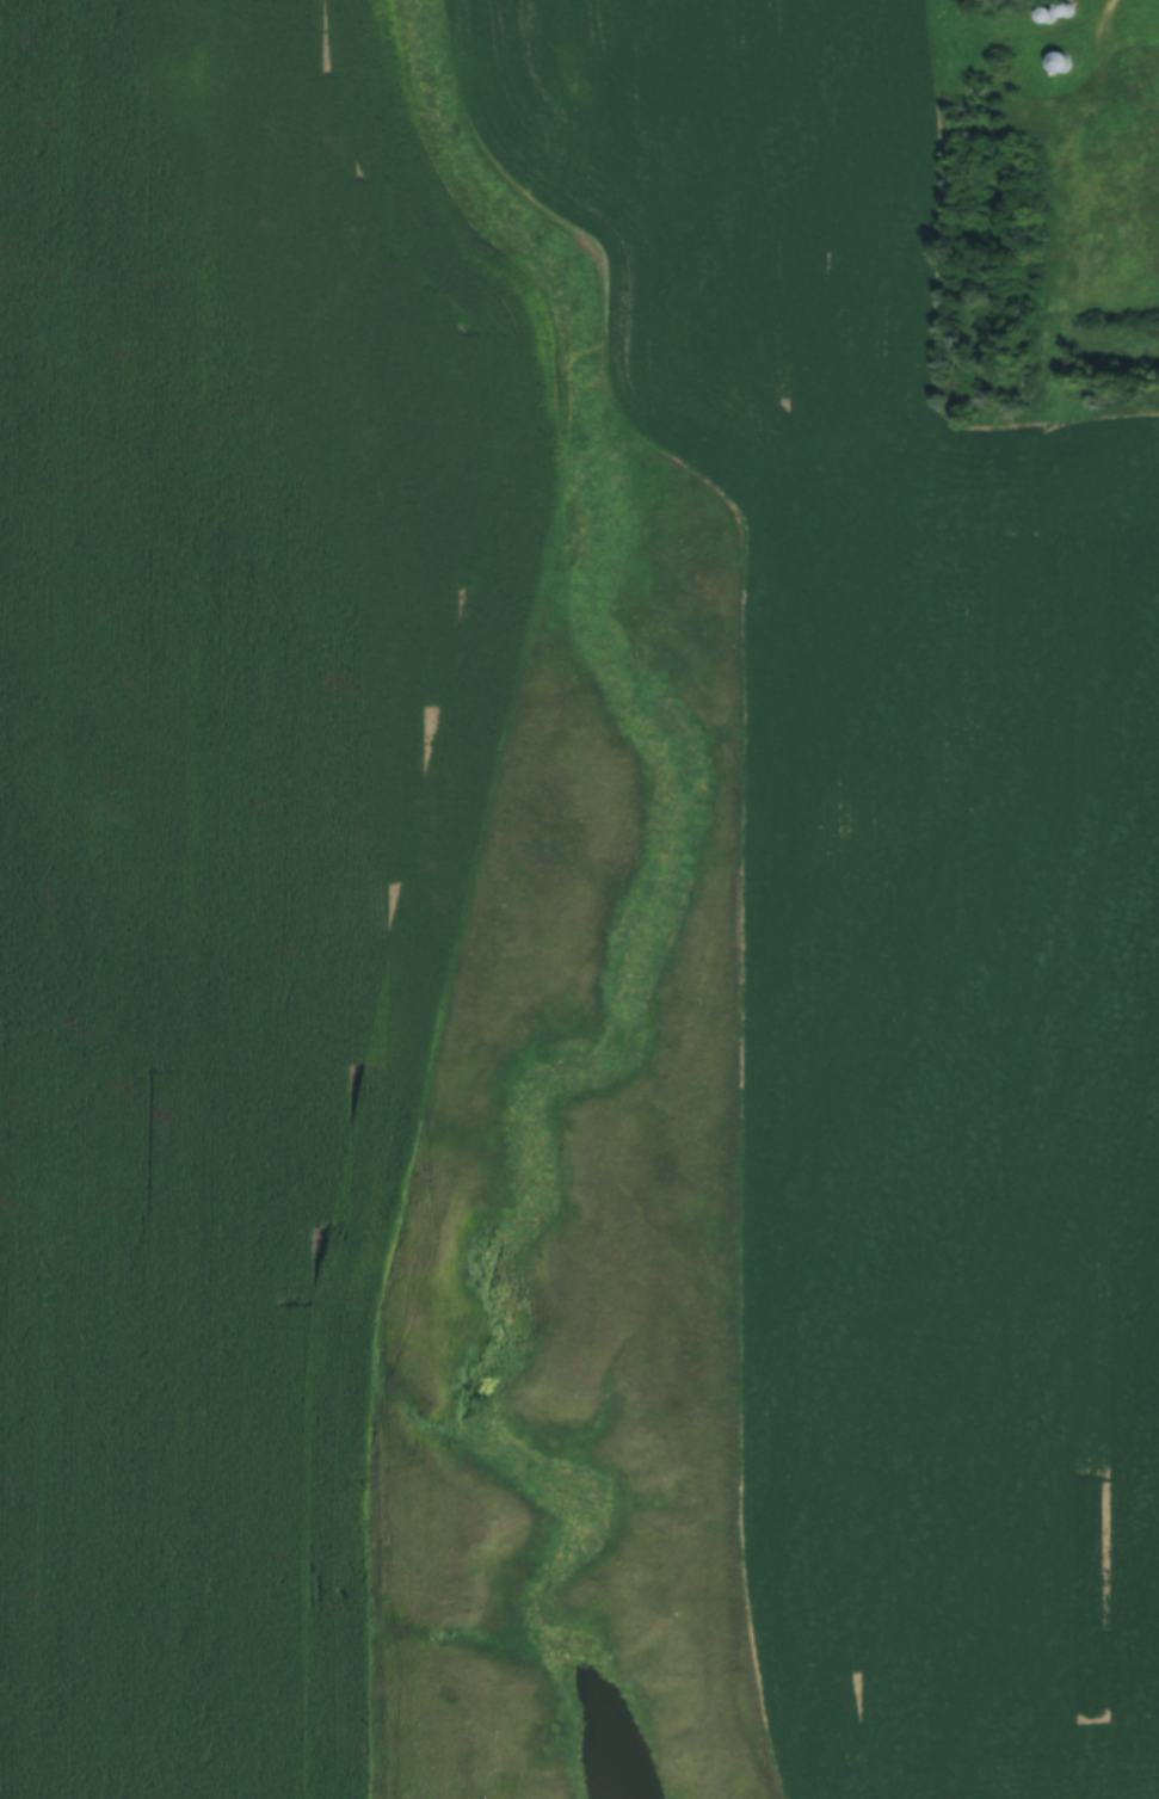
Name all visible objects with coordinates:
road: (1109, 16)
building: (1136, 57)
building: (1065, 64)

